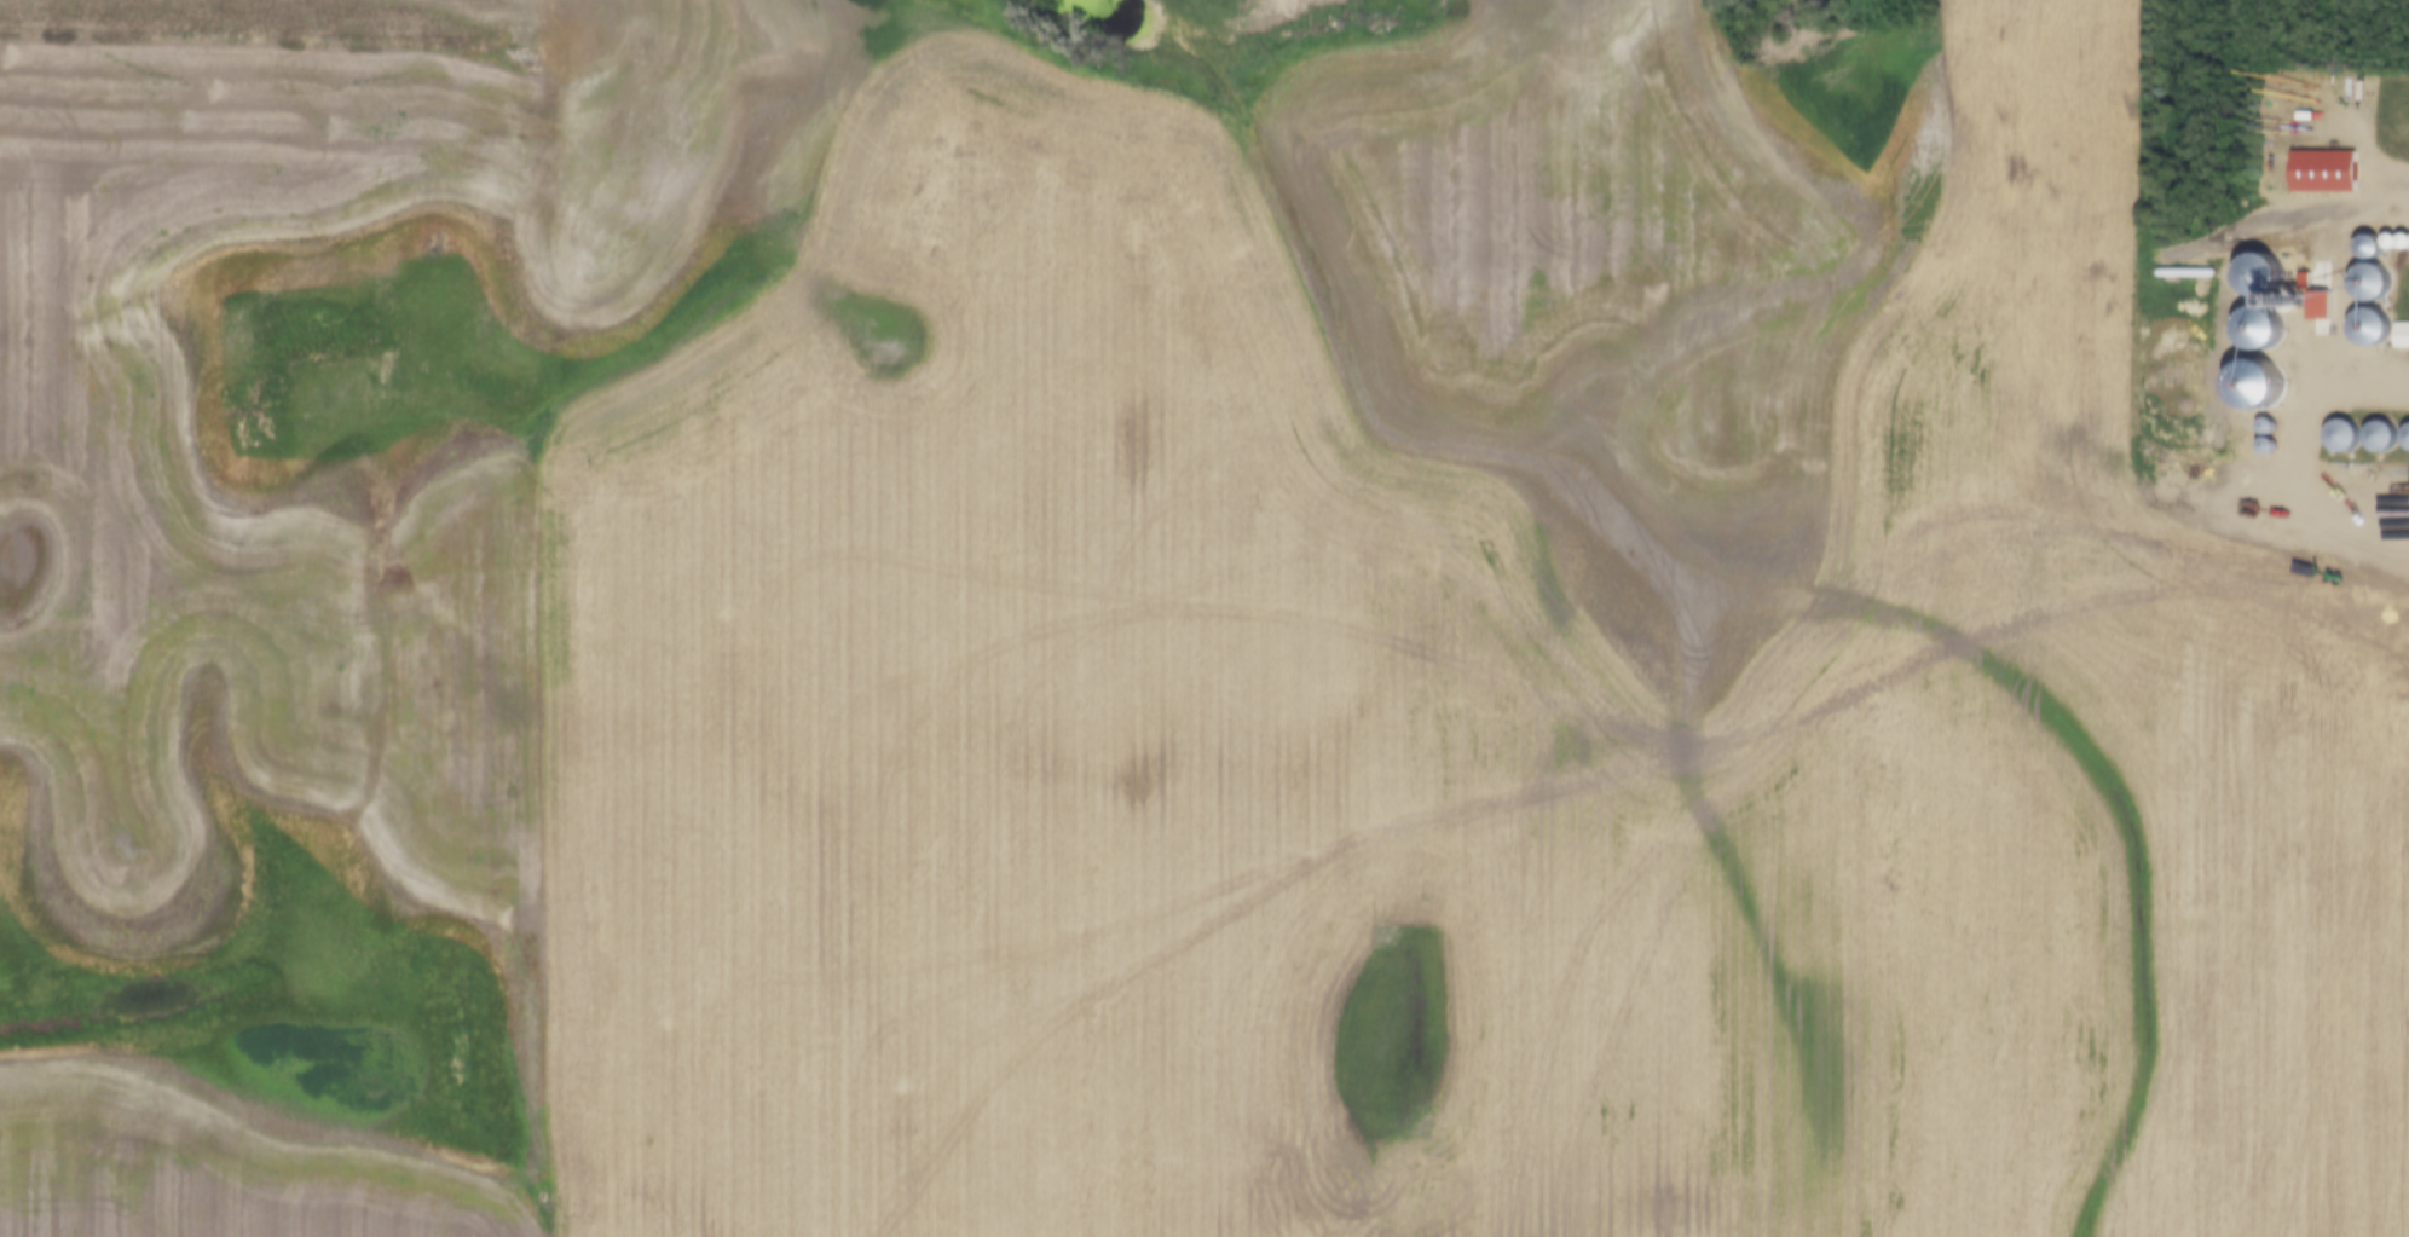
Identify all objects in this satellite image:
building: (2323, 175)
building: (2373, 250)
building: (2265, 279)
building: (2373, 284)
road: (2295, 302)
building: (2369, 325)
building: (2257, 331)
building: (2401, 337)
building: (2381, 438)
building: (2345, 439)

